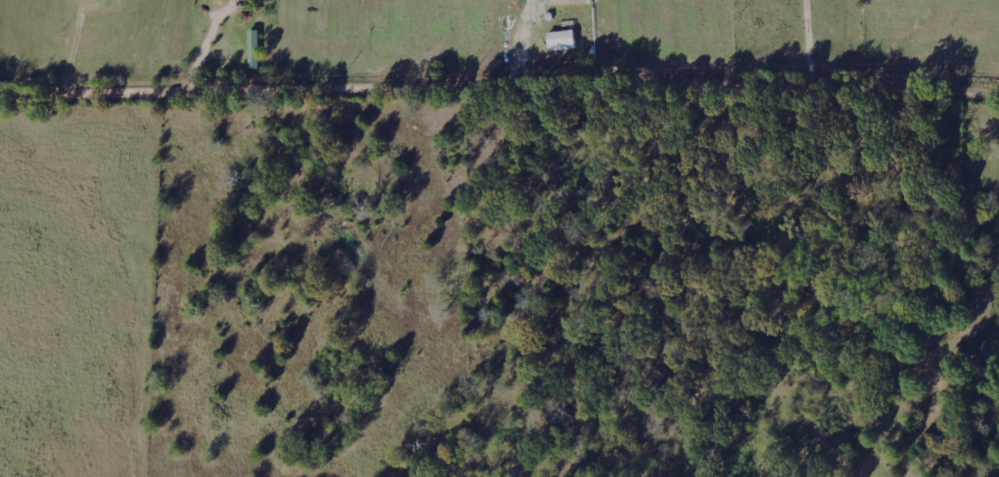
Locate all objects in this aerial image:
building: (262, 0)
building: (577, 2)
building: (564, 40)
road: (499, 90)

